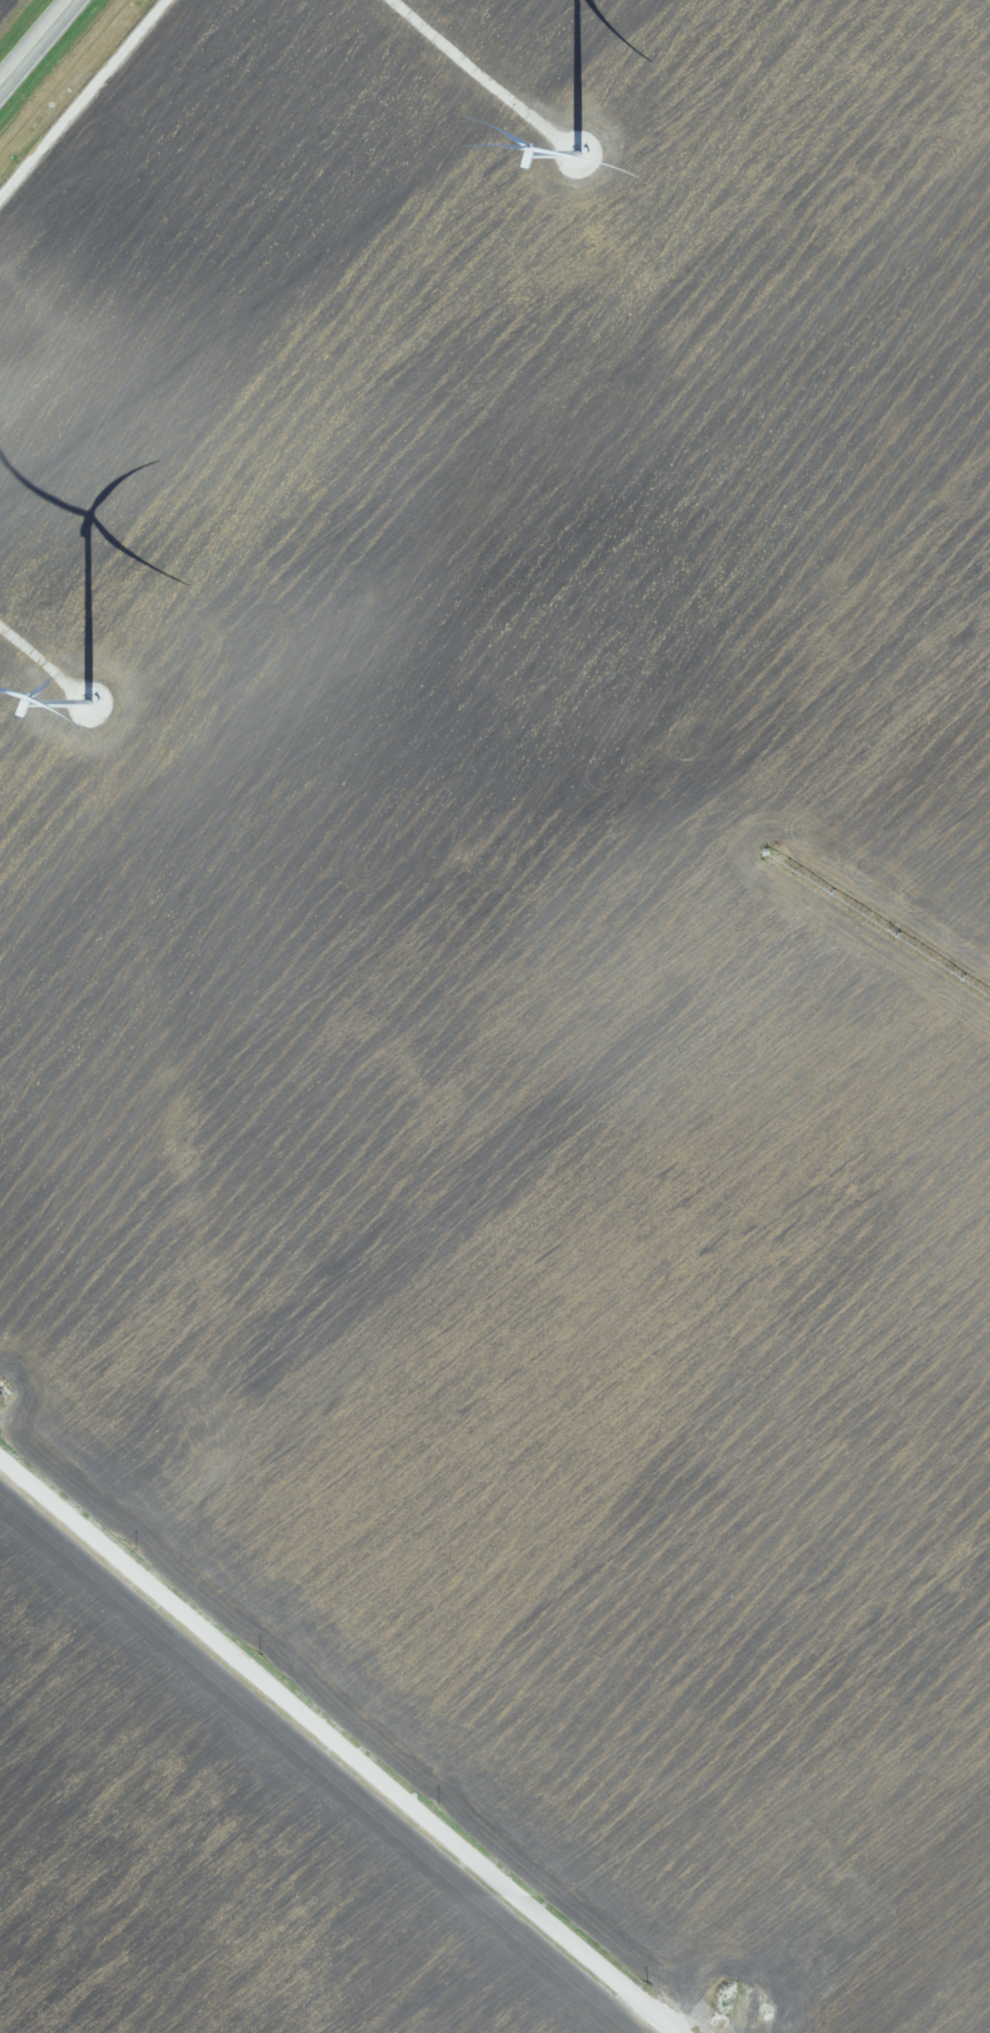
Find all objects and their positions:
road: (39, 48)
railway: (71, 86)
wind turbine: (573, 153)
wind turbine: (80, 695)
road: (319, 1757)

